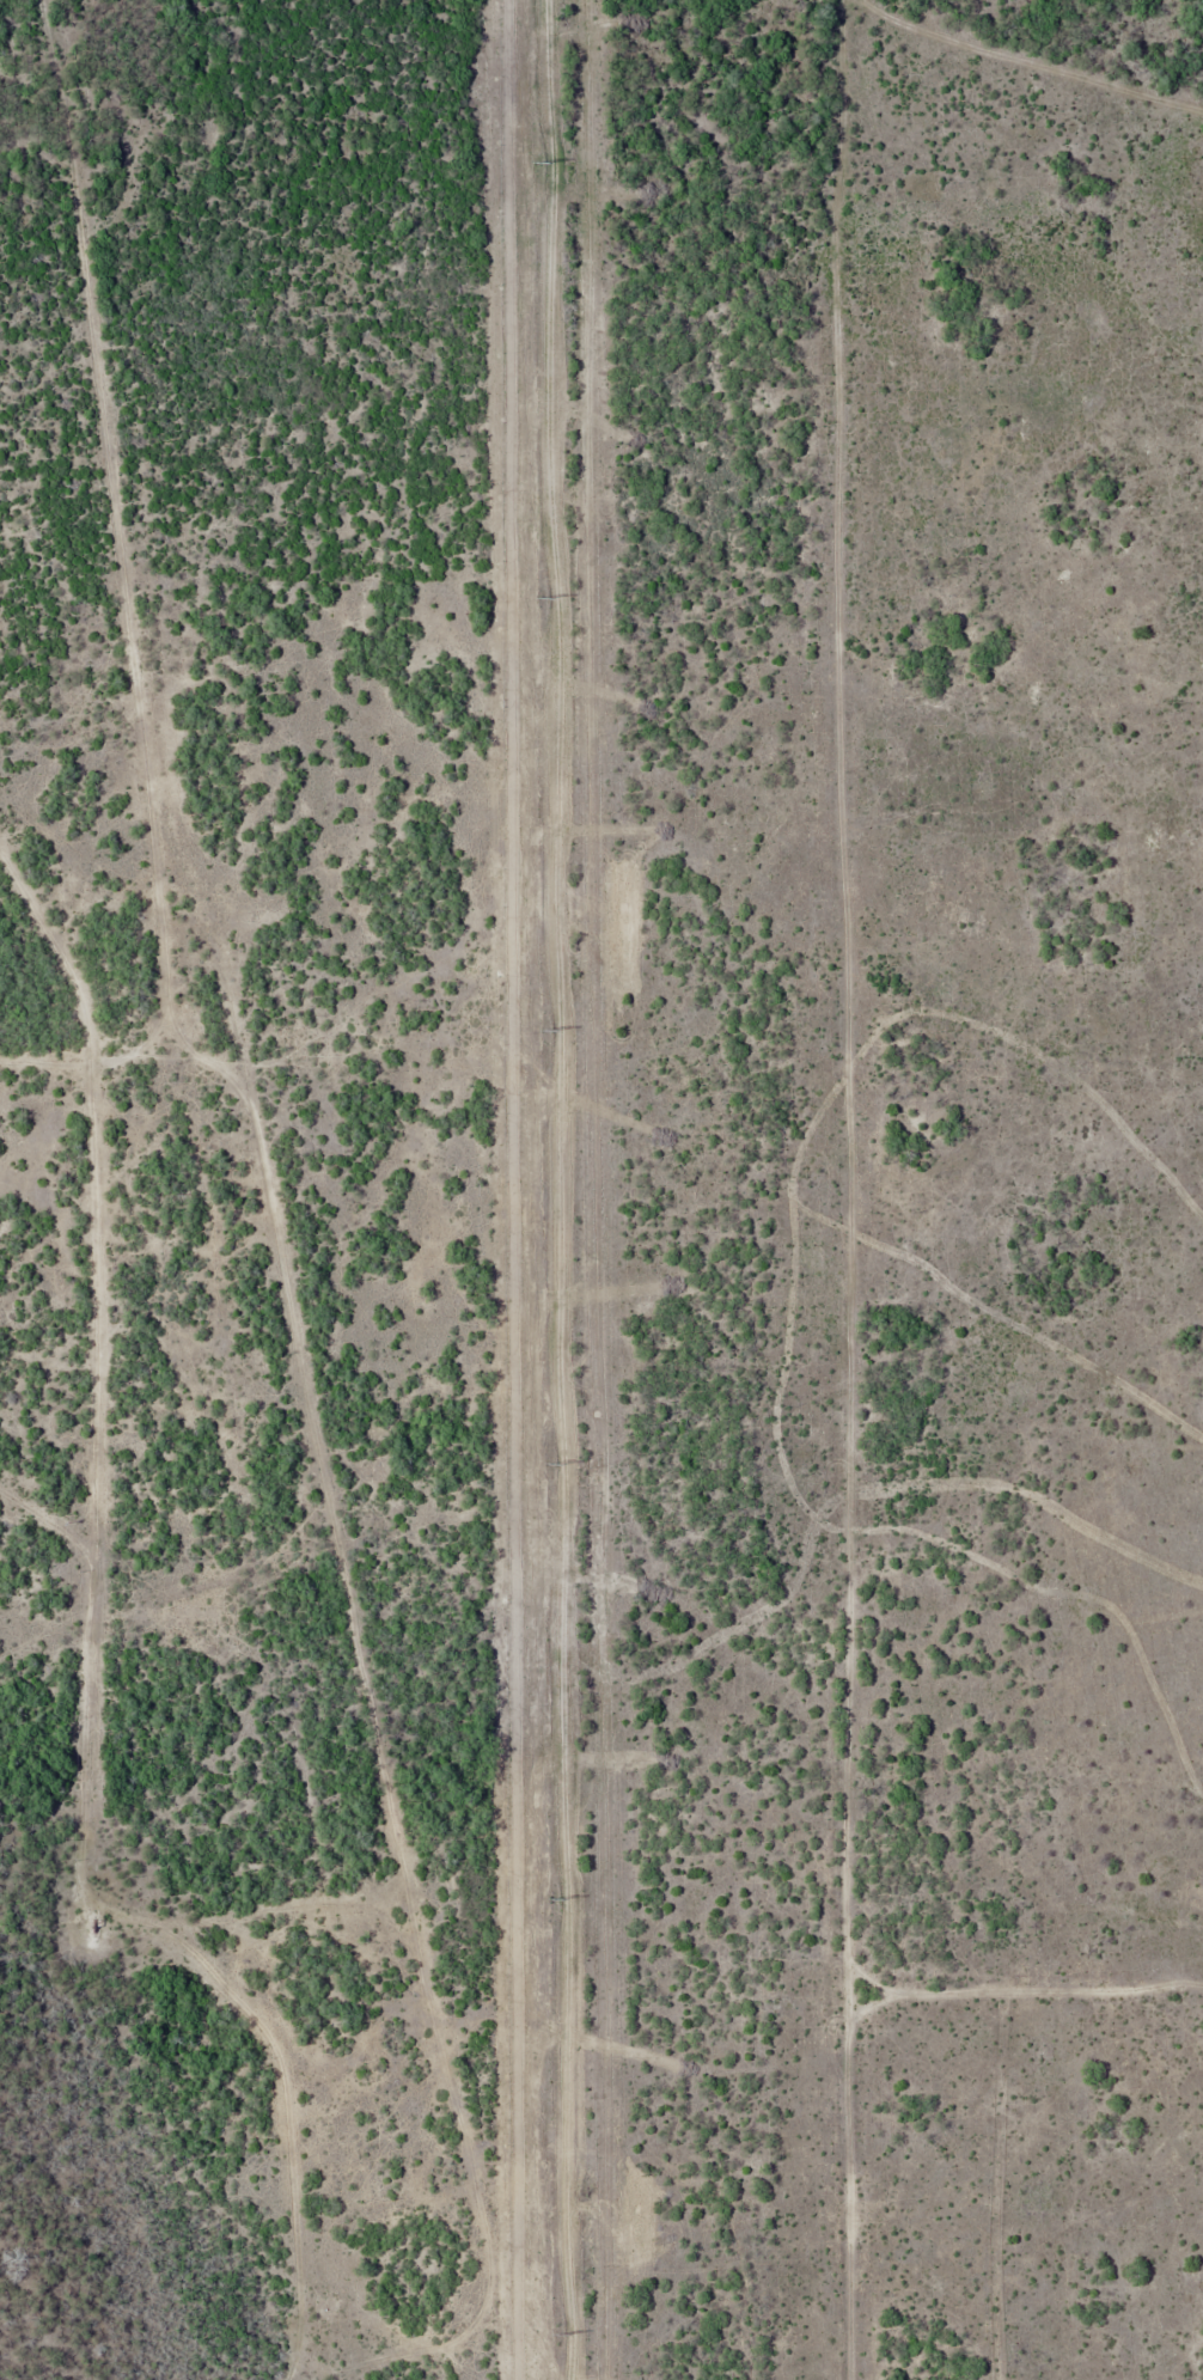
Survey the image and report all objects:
power tower: (538, 163)
power tower: (541, 599)
road: (143, 977)
power tower: (544, 1031)
road: (121, 1078)
road: (301, 1219)
power tower: (548, 1465)
power tower: (552, 1902)
road: (212, 1937)
road: (402, 1953)
power tower: (557, 2335)

